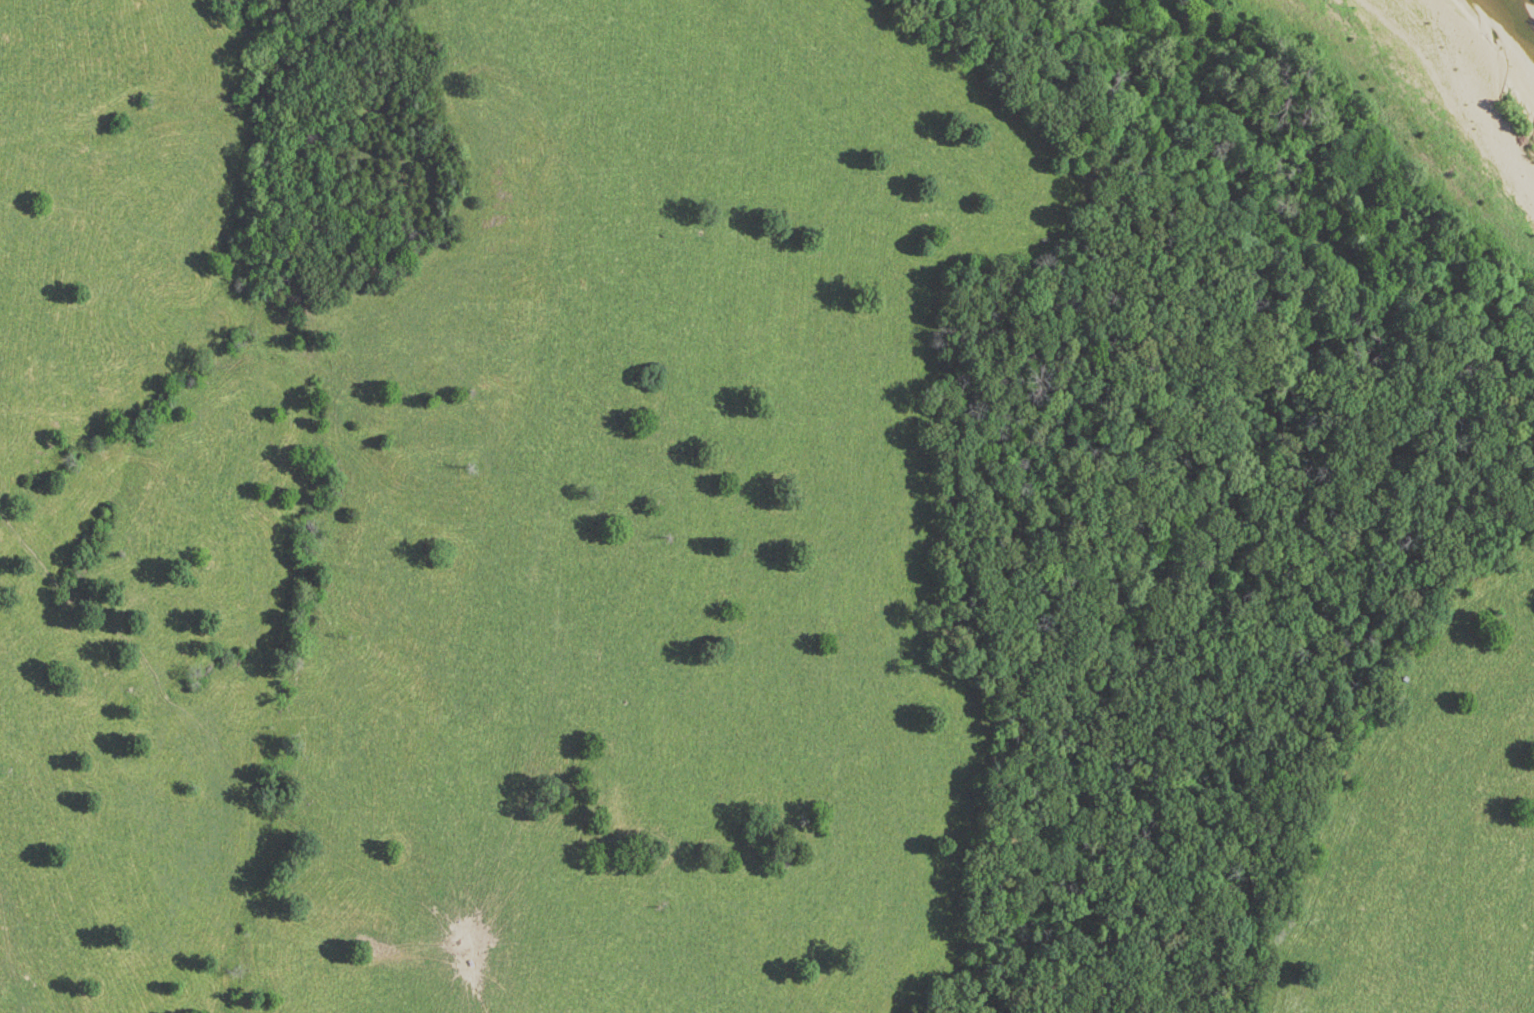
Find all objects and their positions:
river: (1505, 29)

